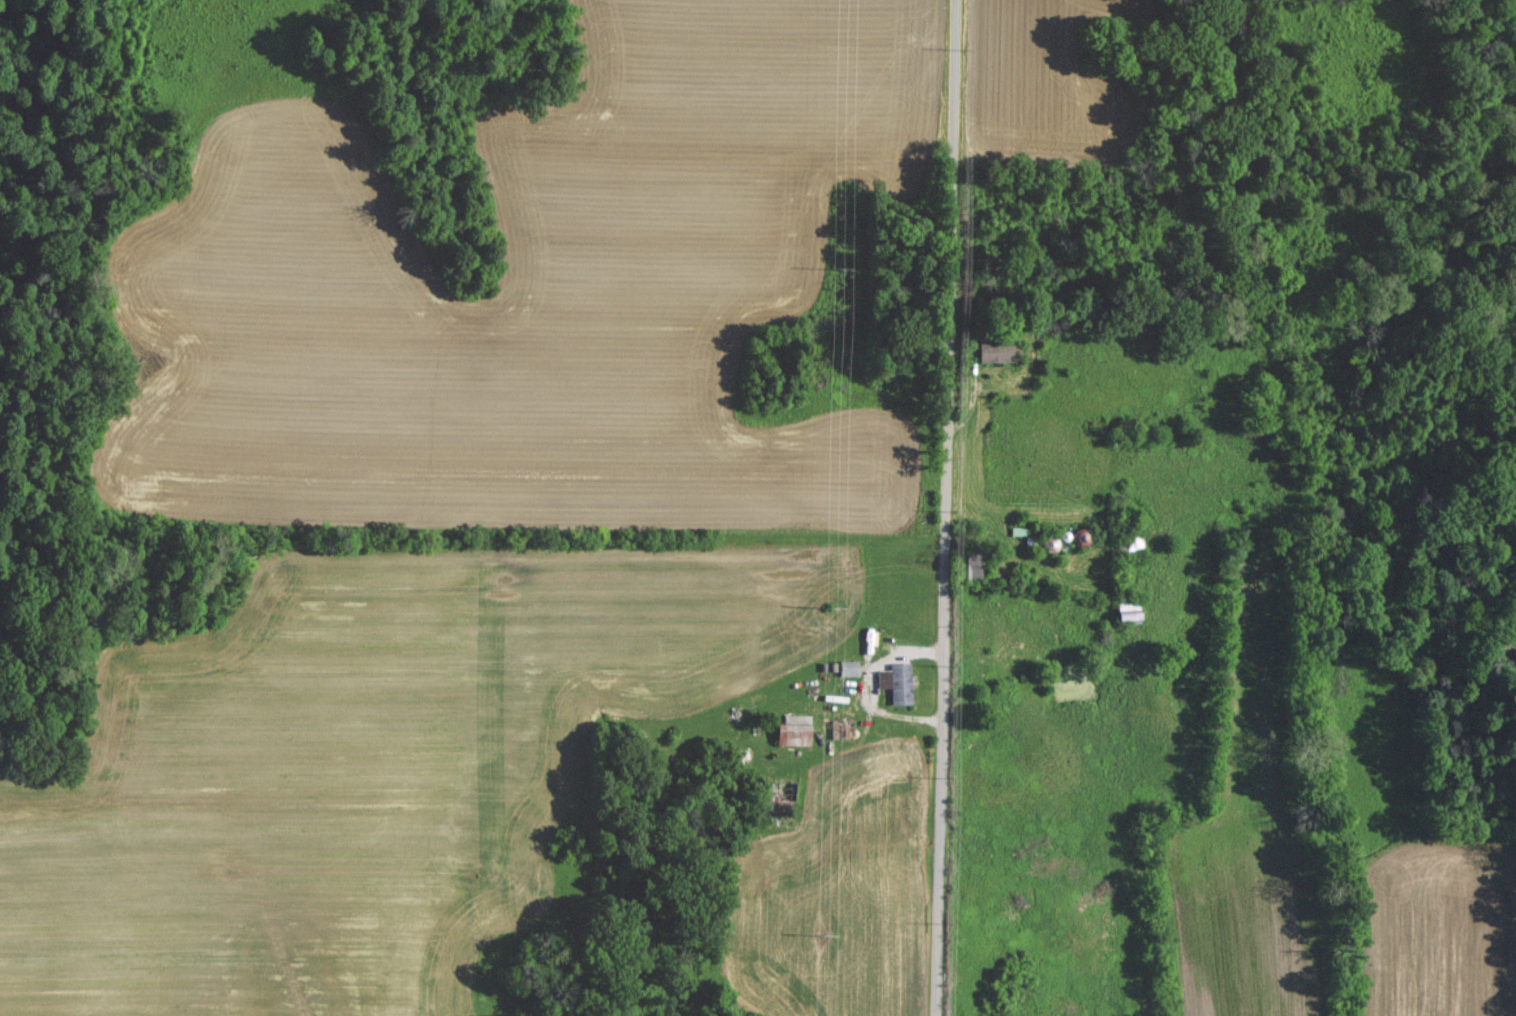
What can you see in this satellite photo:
building: (1001, 351)
road: (944, 507)
building: (899, 681)
building: (797, 729)
building: (785, 791)

